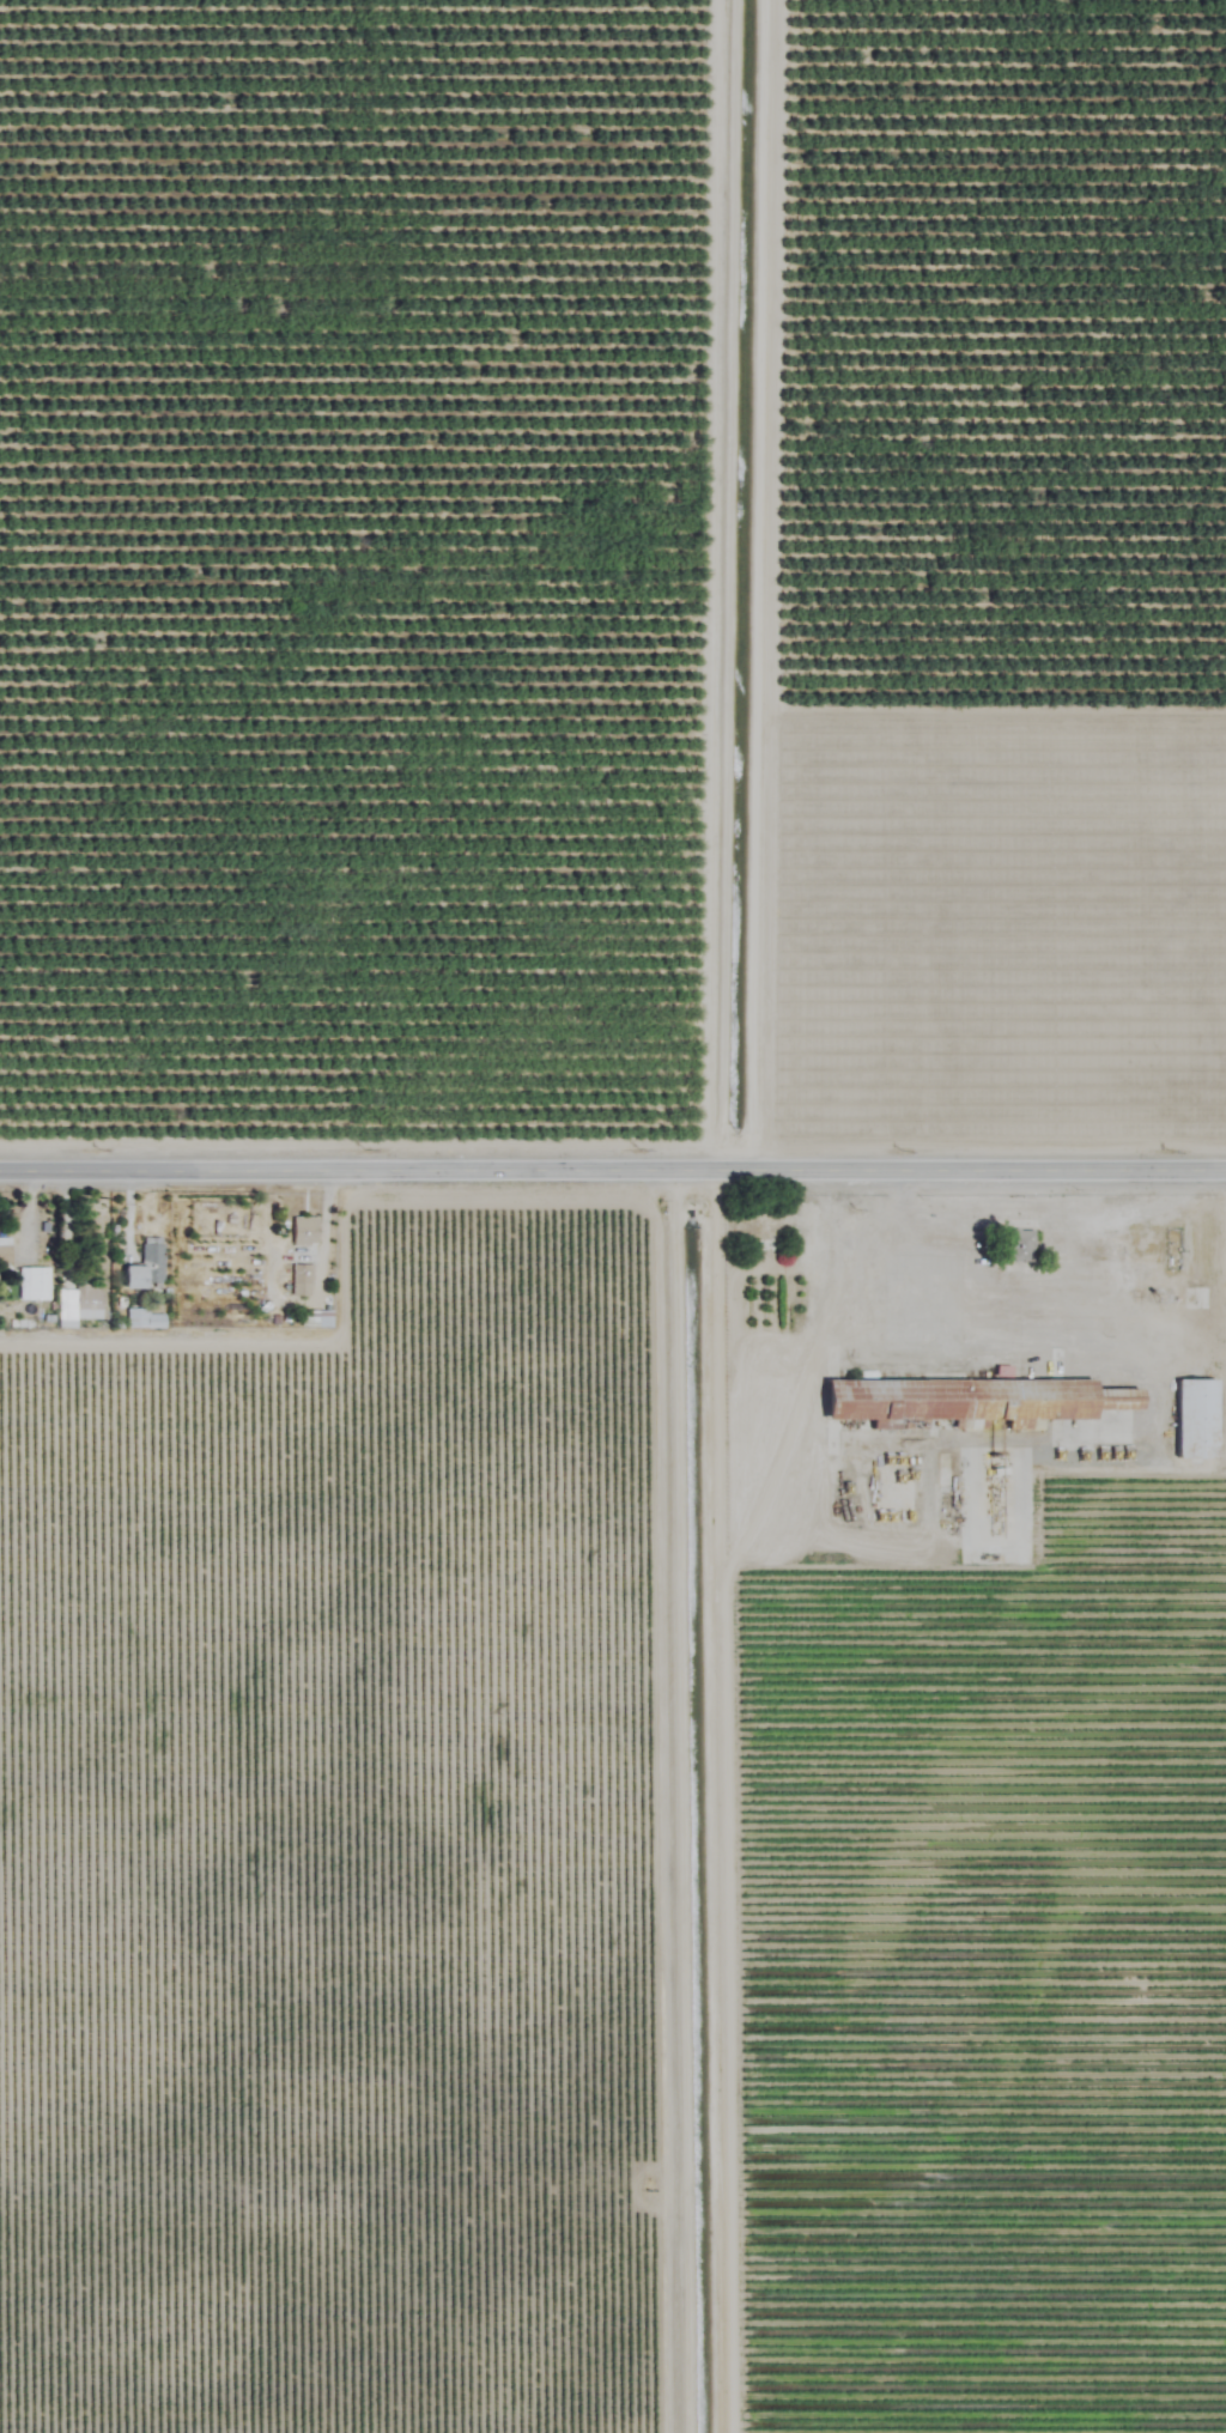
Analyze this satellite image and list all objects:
road: (613, 1171)
building: (74, 1304)
building: (875, 1398)
building: (1197, 1416)

